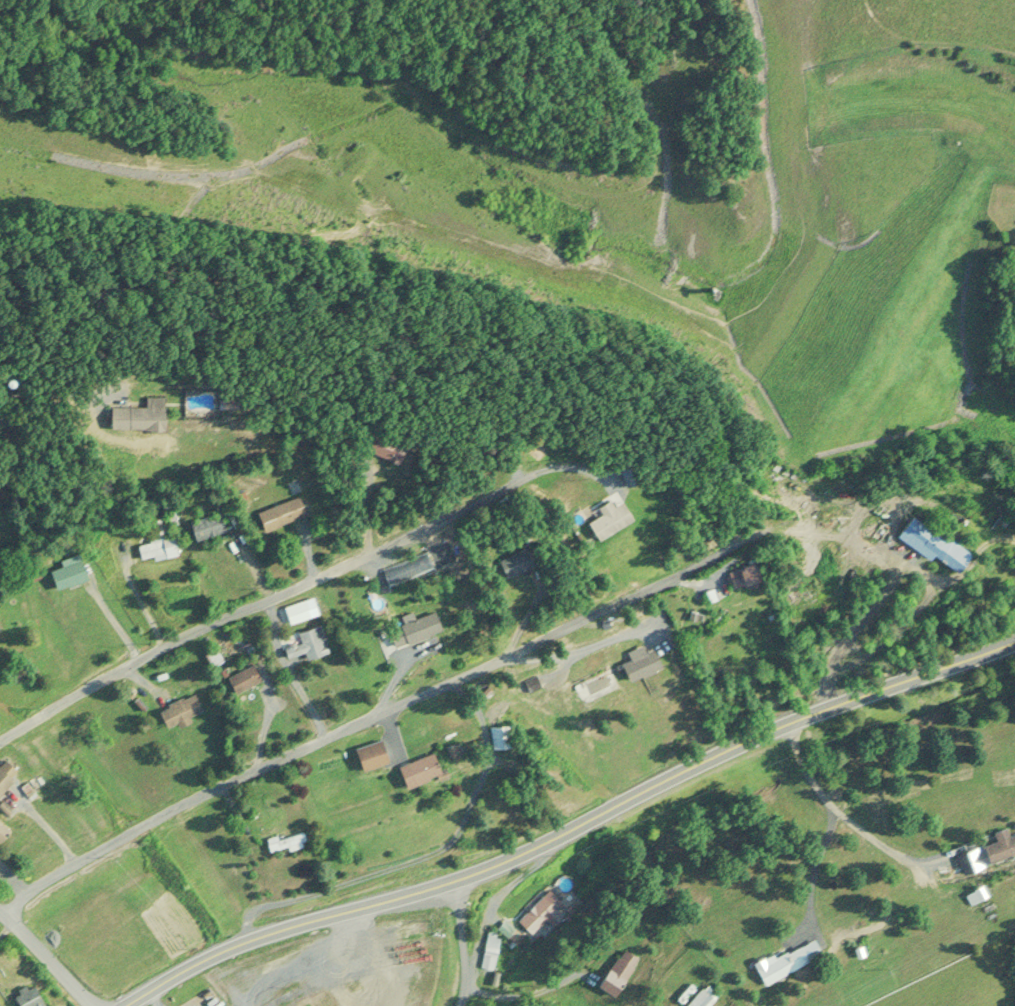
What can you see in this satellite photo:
building: (131, 416)
building: (377, 448)
building: (277, 513)
building: (605, 520)
building: (204, 526)
building: (872, 530)
road: (863, 543)
building: (928, 543)
building: (155, 548)
building: (513, 563)
building: (406, 568)
building: (65, 573)
building: (728, 580)
road: (298, 586)
building: (294, 612)
building: (410, 629)
building: (304, 645)
building: (636, 665)
building: (240, 679)
building: (177, 711)
road: (372, 714)
building: (497, 736)
building: (367, 755)
building: (414, 771)
building: (11, 784)
building: (0, 829)
road: (572, 829)
building: (282, 843)
building: (998, 845)
building: (538, 914)
road: (462, 942)
road: (49, 954)
building: (786, 960)
building: (615, 972)
building: (23, 996)
building: (699, 999)

